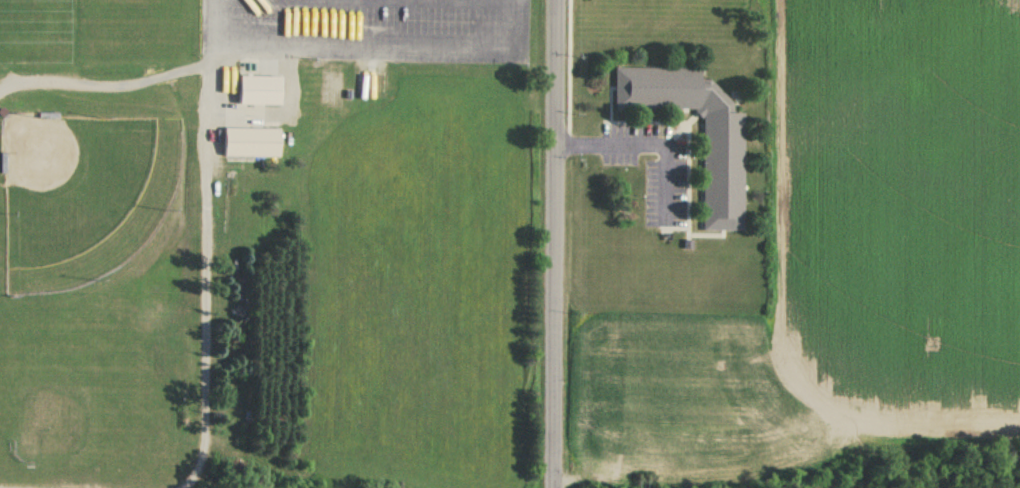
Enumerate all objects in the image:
road: (440, 1)
road: (368, 44)
road: (572, 73)
building: (369, 81)
building: (332, 89)
building: (258, 90)
building: (250, 143)
road: (647, 147)
building: (718, 172)
park: (83, 192)
road: (555, 243)

